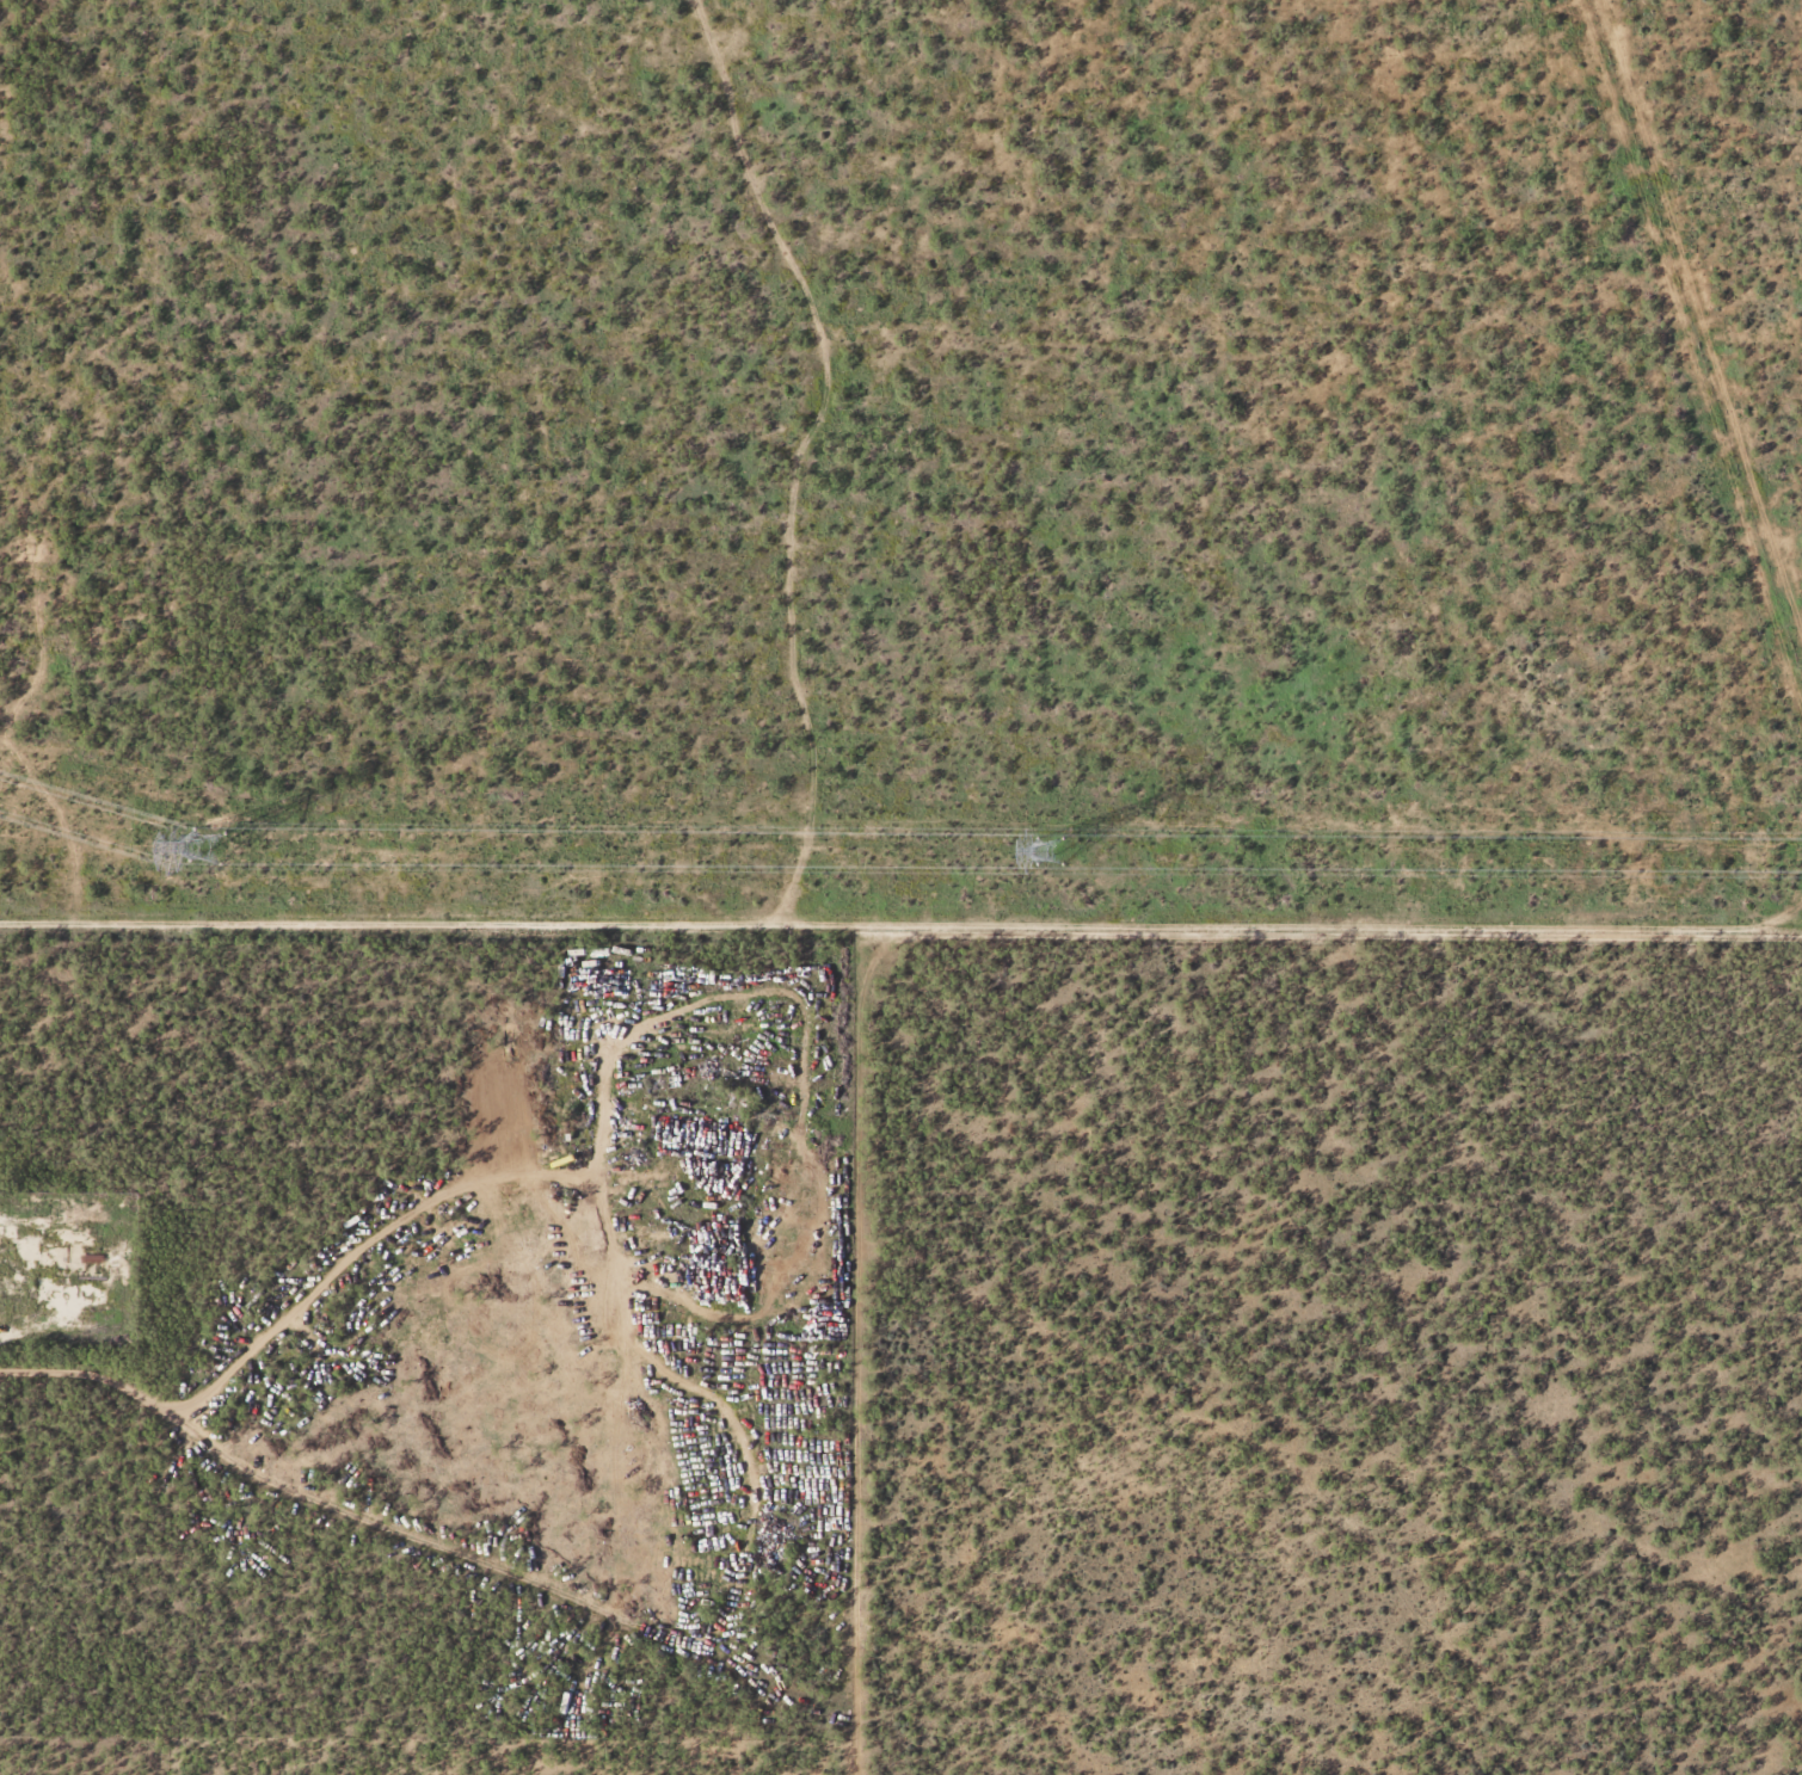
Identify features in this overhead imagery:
power tower: (205, 850)
power tower: (1048, 855)
road: (900, 947)

